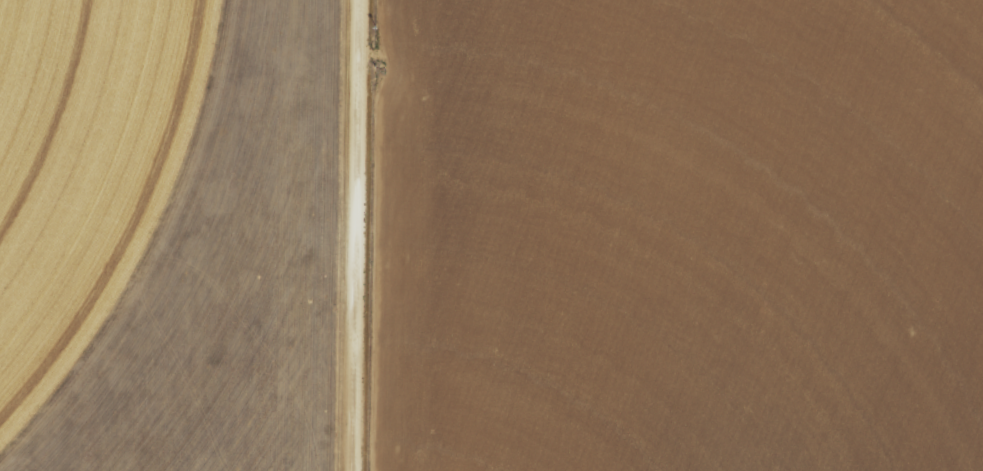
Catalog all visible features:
road: (360, 235)

